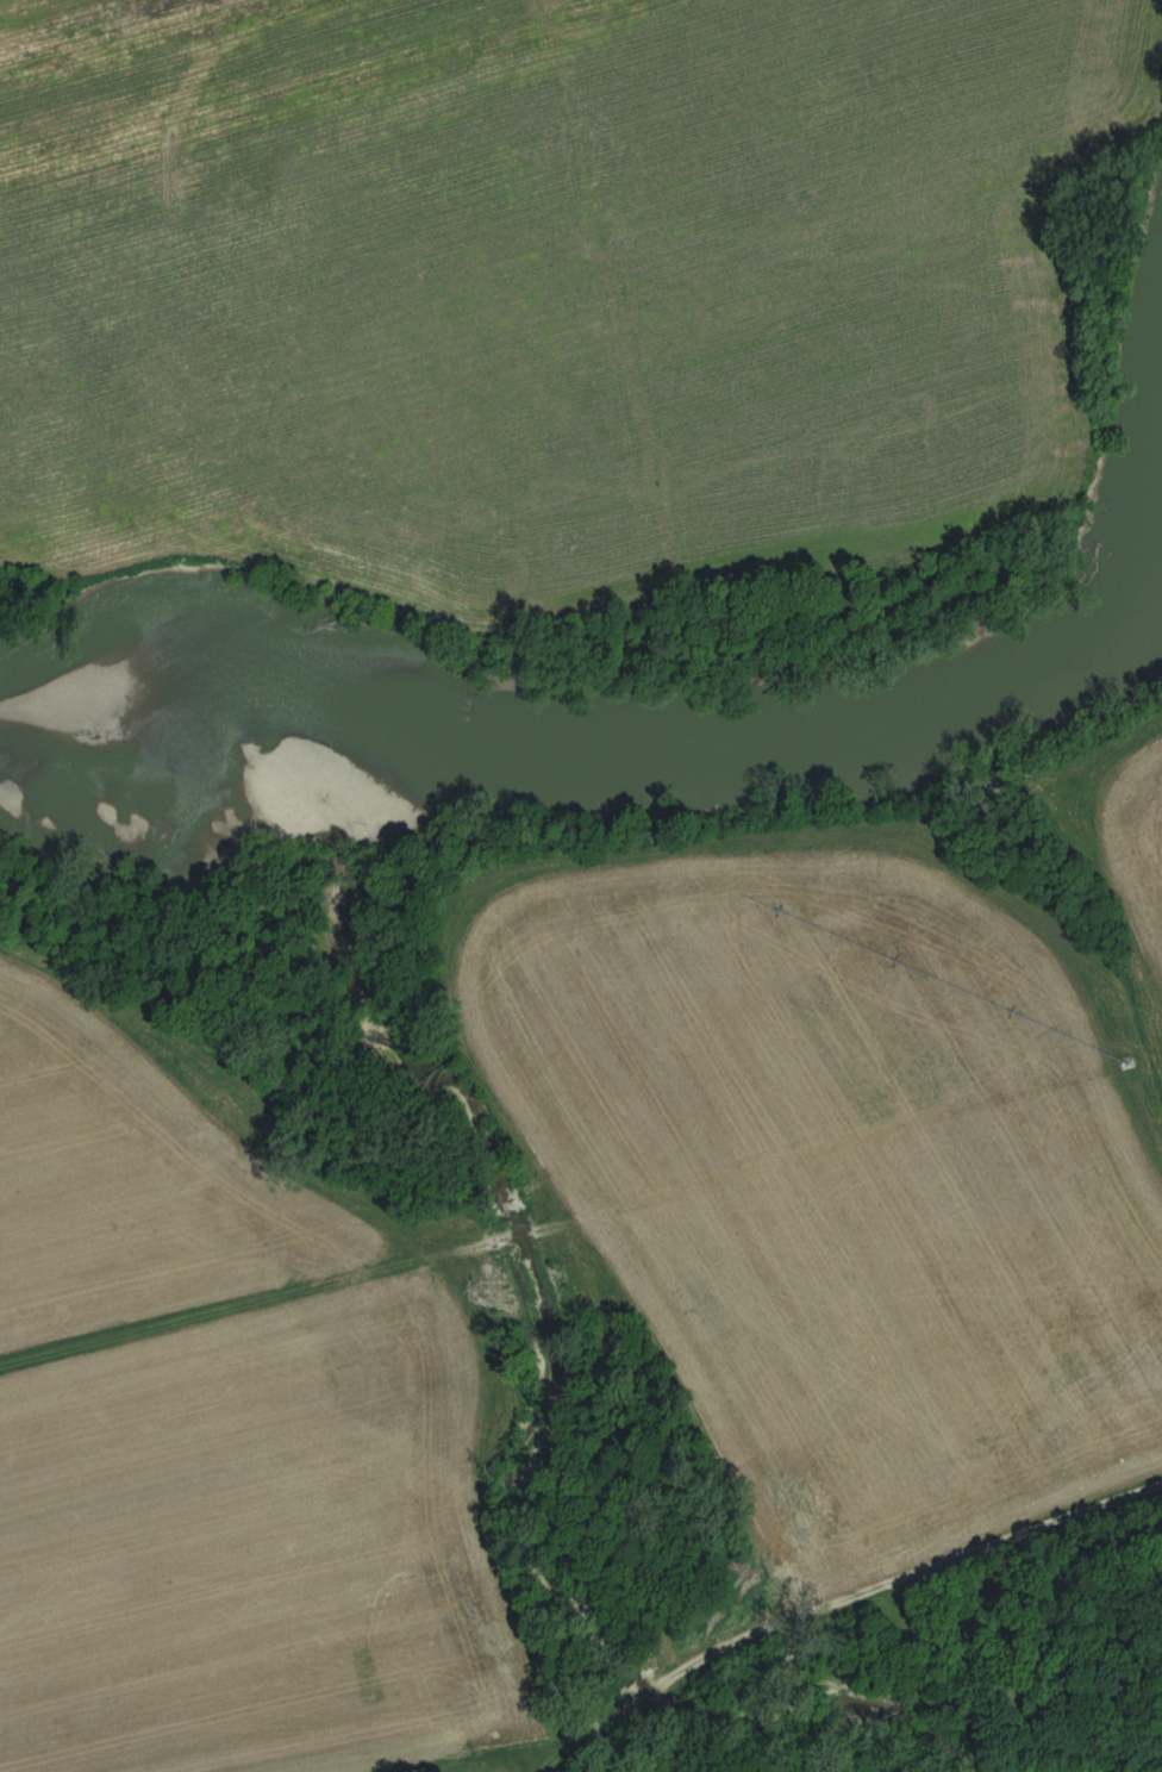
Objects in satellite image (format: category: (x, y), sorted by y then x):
crop: (549, 274)
river: (582, 759)
crop: (1129, 809)
crop: (821, 1156)
crop: (232, 1435)
road: (912, 1584)

